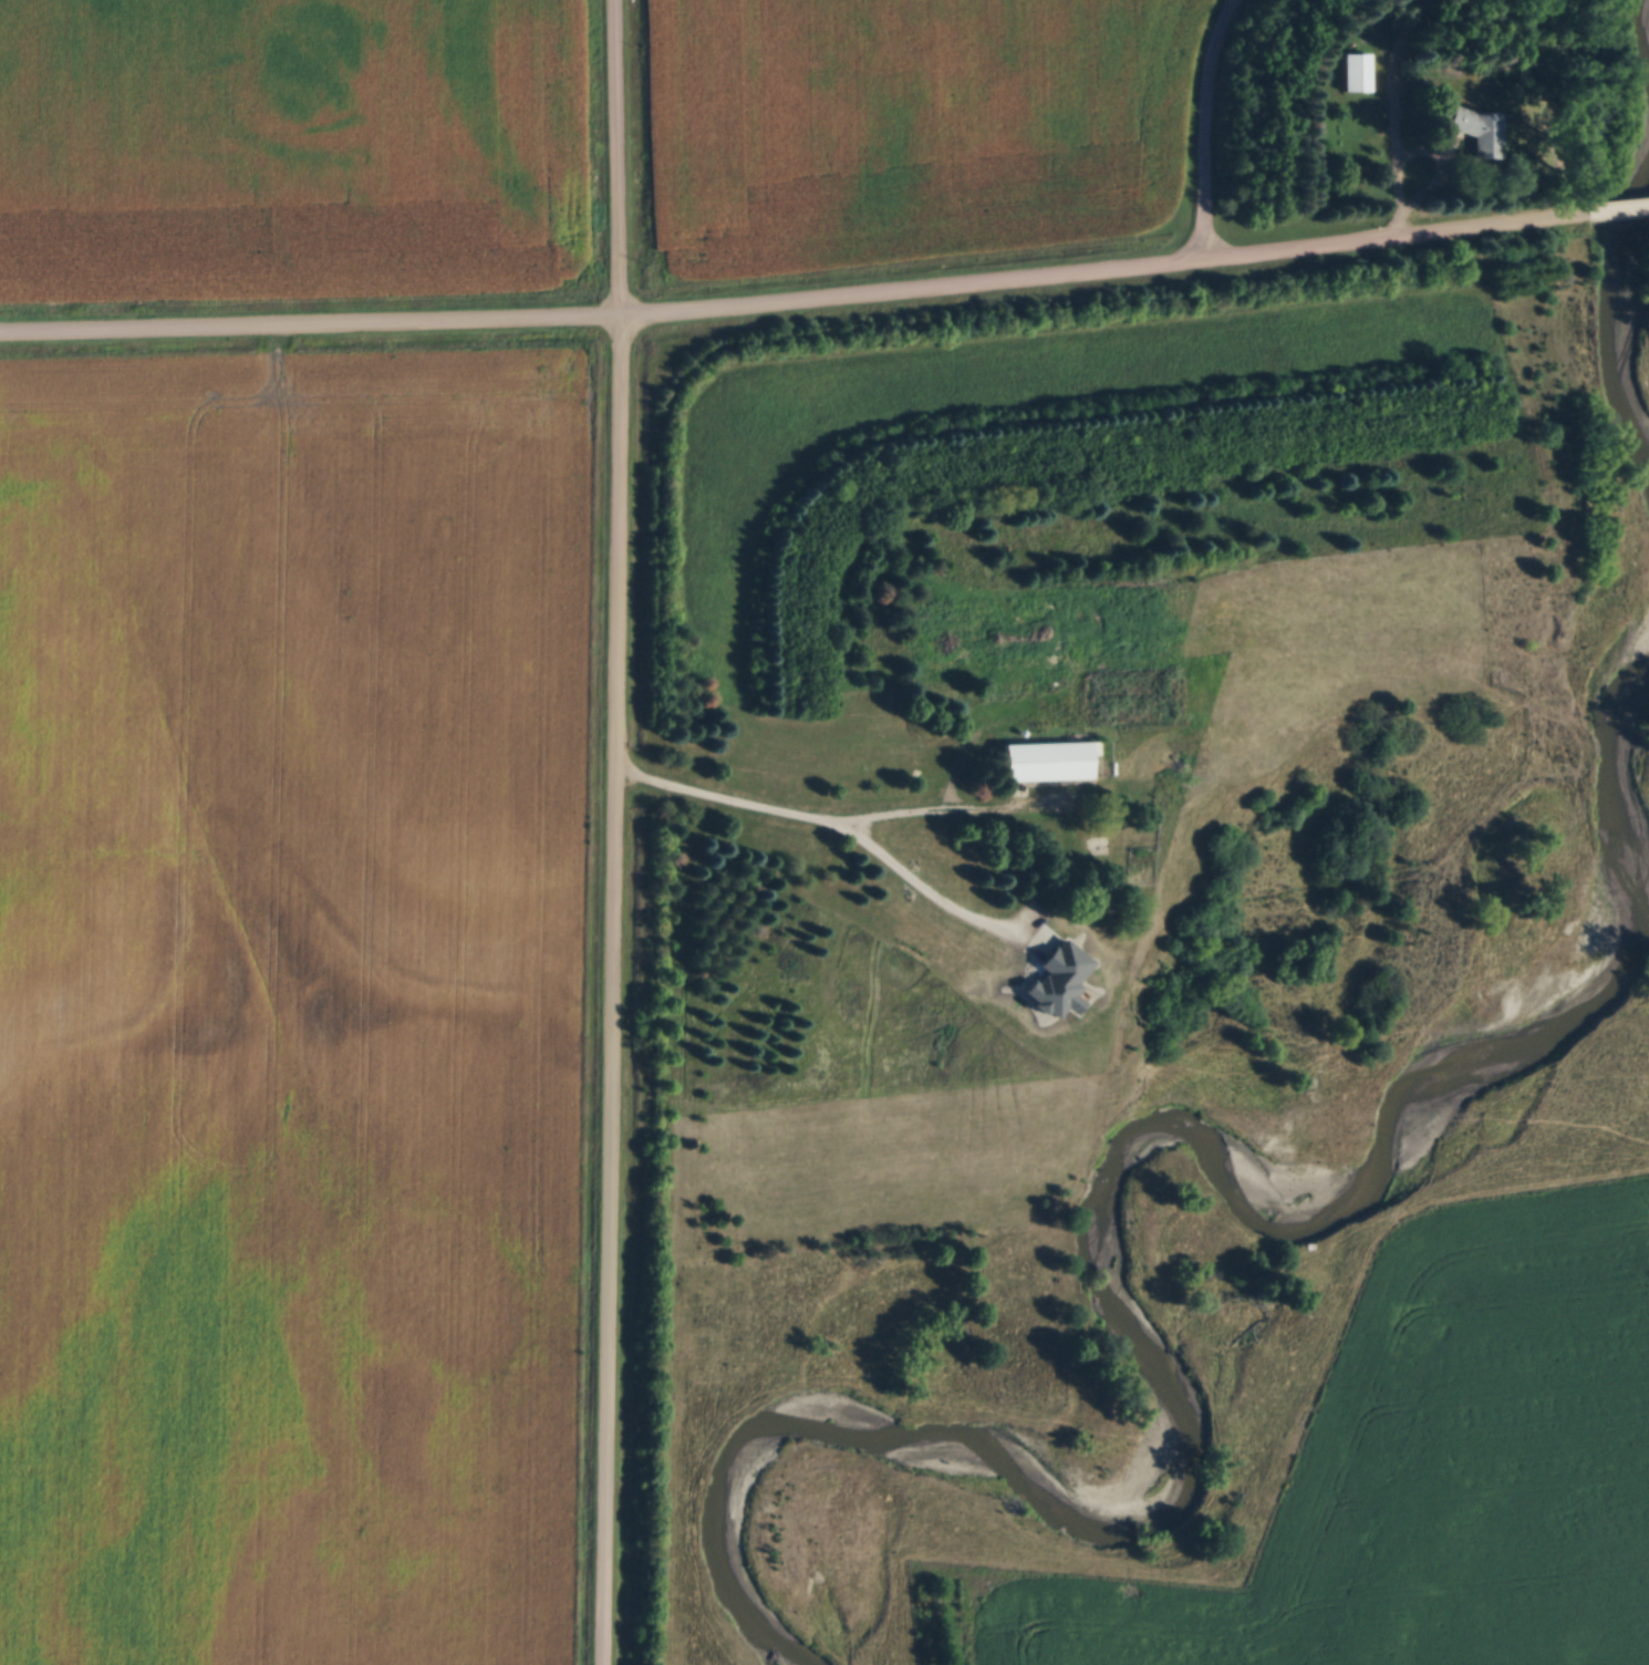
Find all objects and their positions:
building: (1356, 74)
road: (1196, 126)
building: (1479, 132)
road: (1619, 209)
road: (797, 303)
building: (1046, 764)
road: (834, 825)
road: (614, 832)
building: (1057, 983)
crop: (290, 1005)

